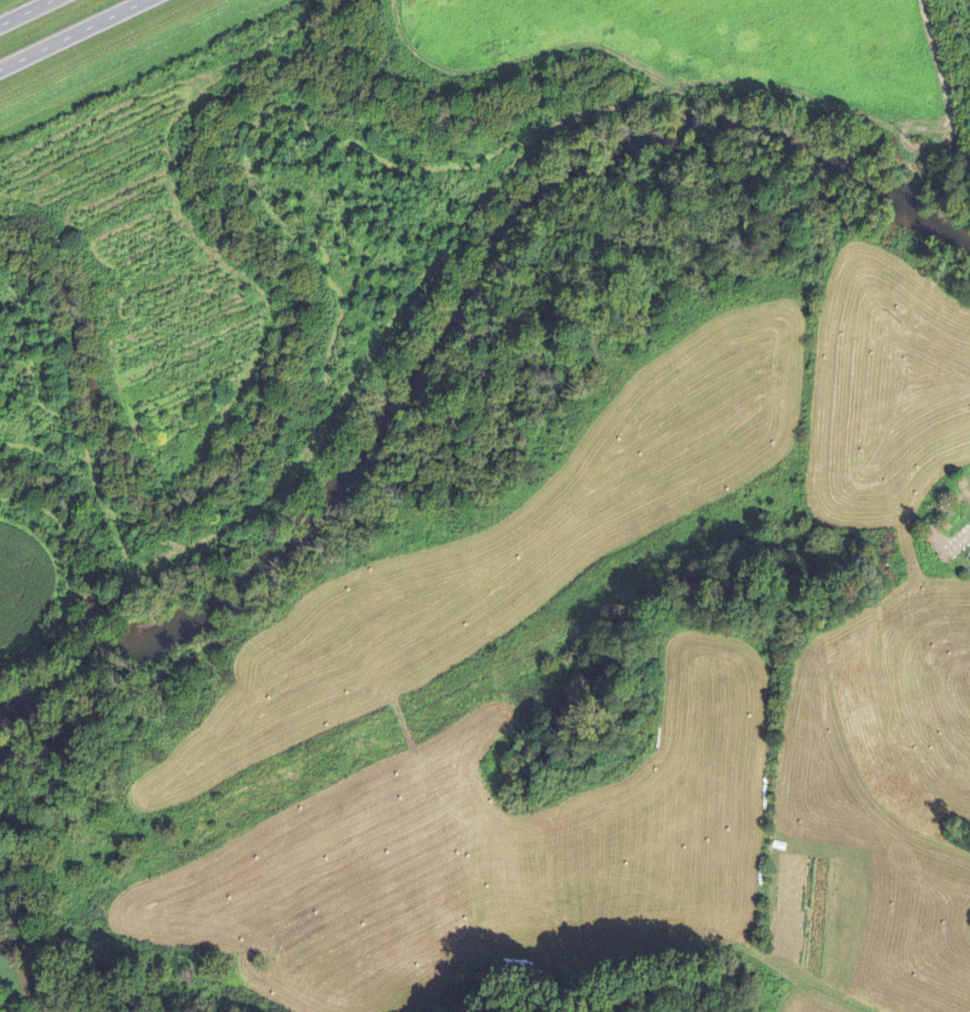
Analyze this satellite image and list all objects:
crop: (968, 4)
road: (27, 12)
road: (69, 33)
river: (566, 307)
river: (76, 748)

